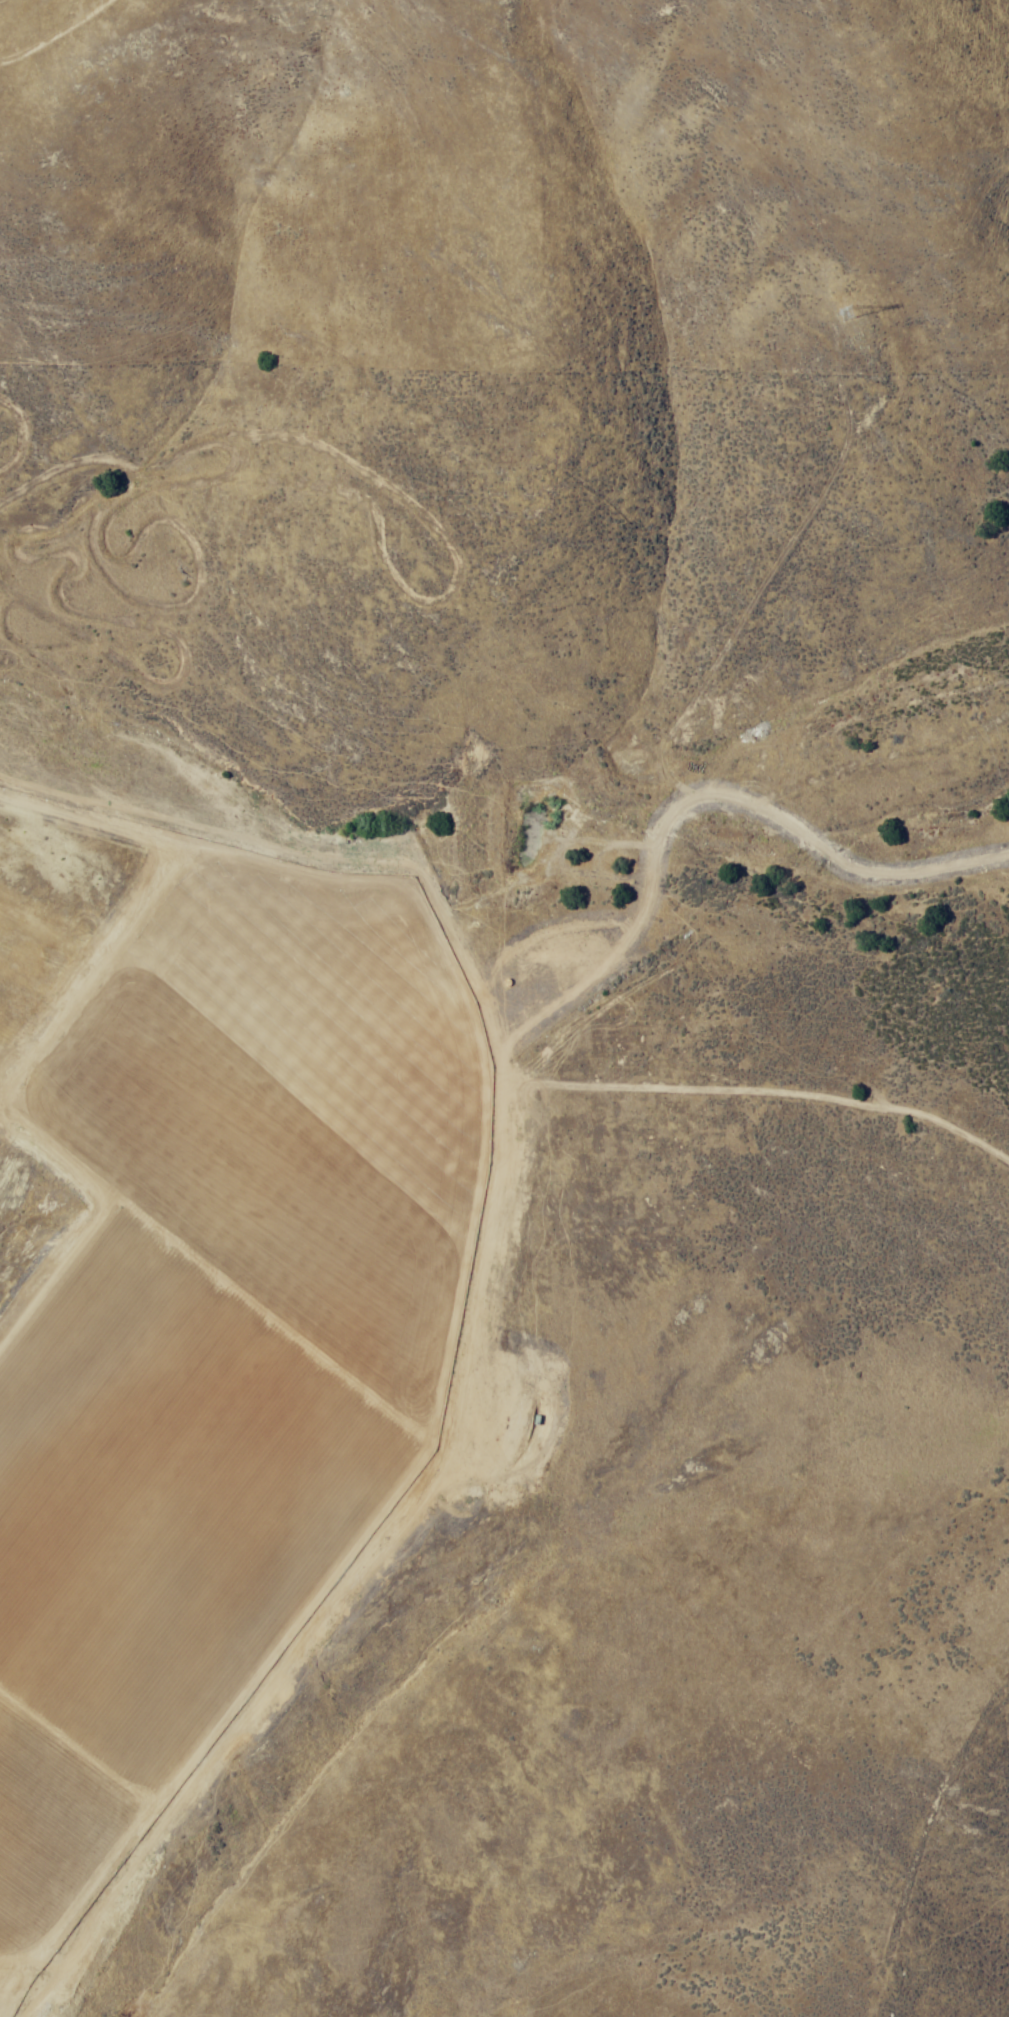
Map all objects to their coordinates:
road: (504, 922)
crop: (216, 1312)

